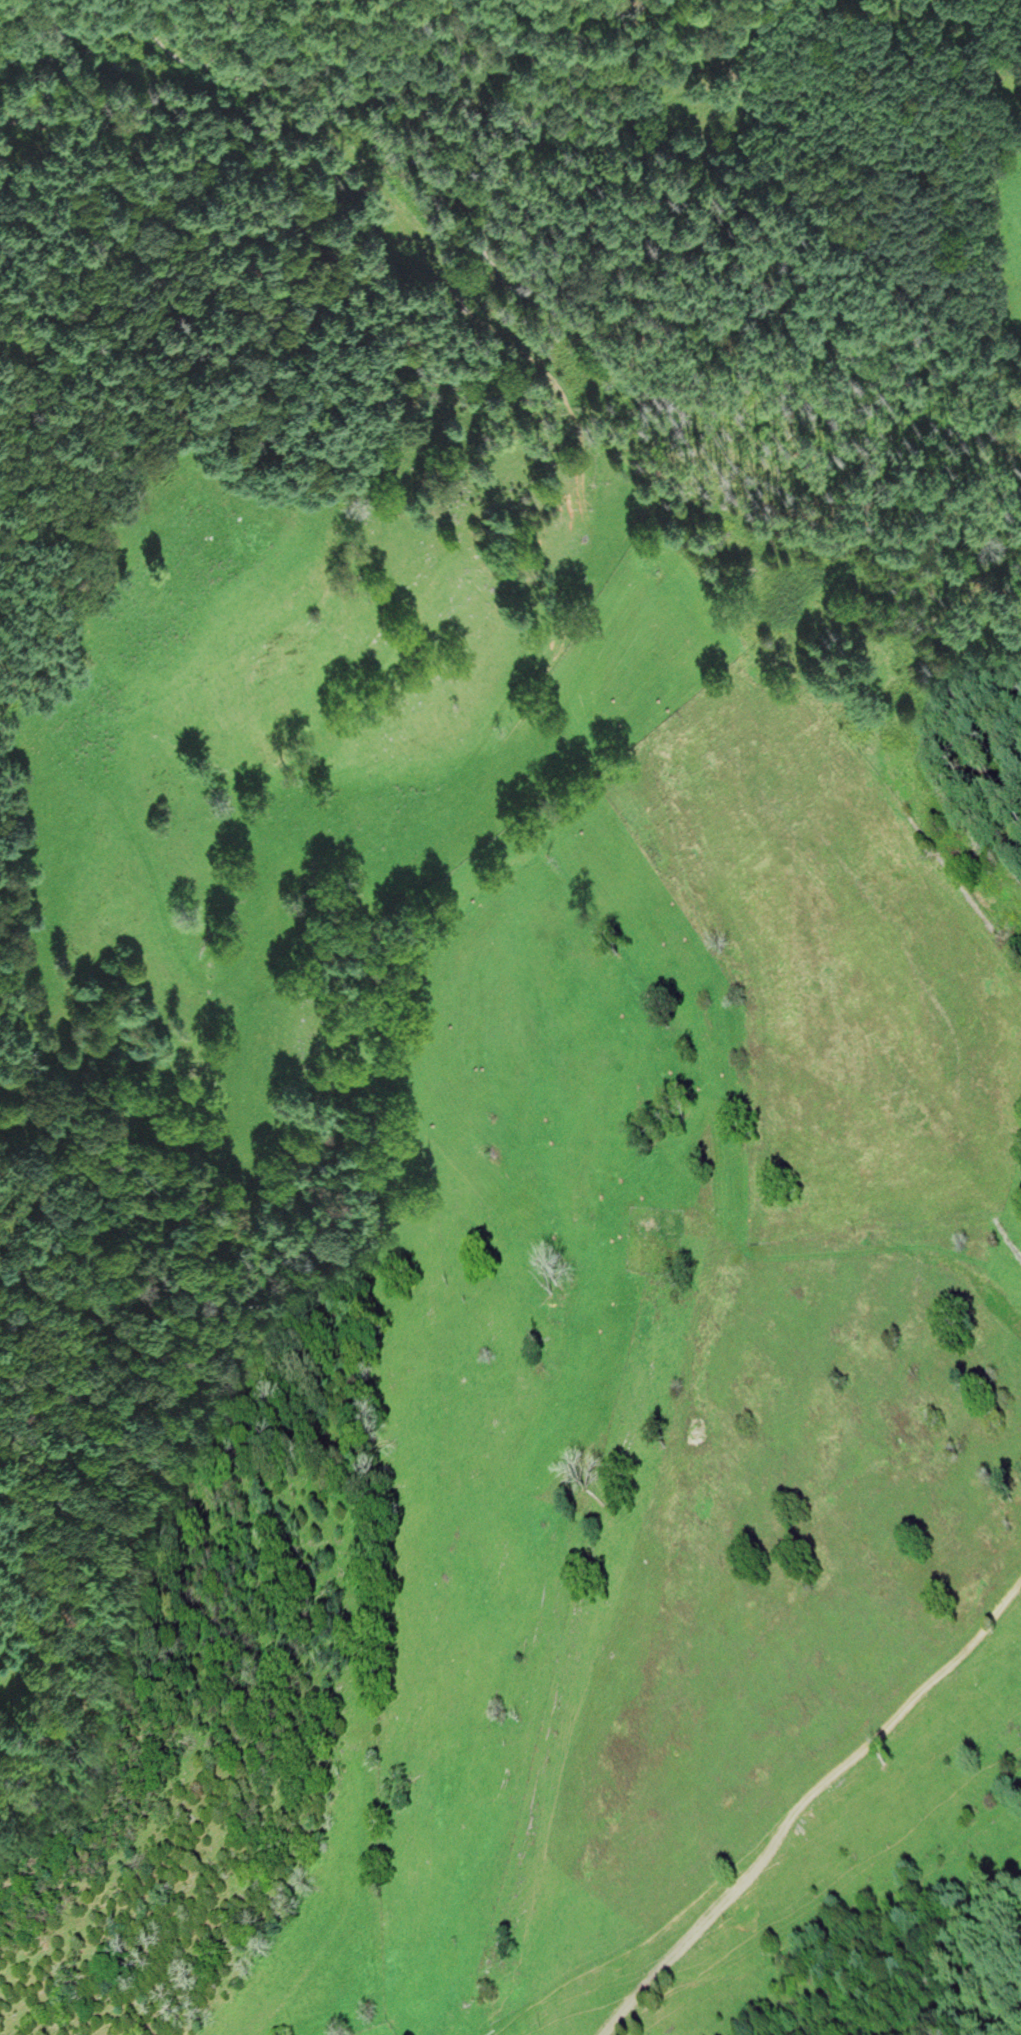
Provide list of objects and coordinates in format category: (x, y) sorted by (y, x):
road: (803, 1799)

